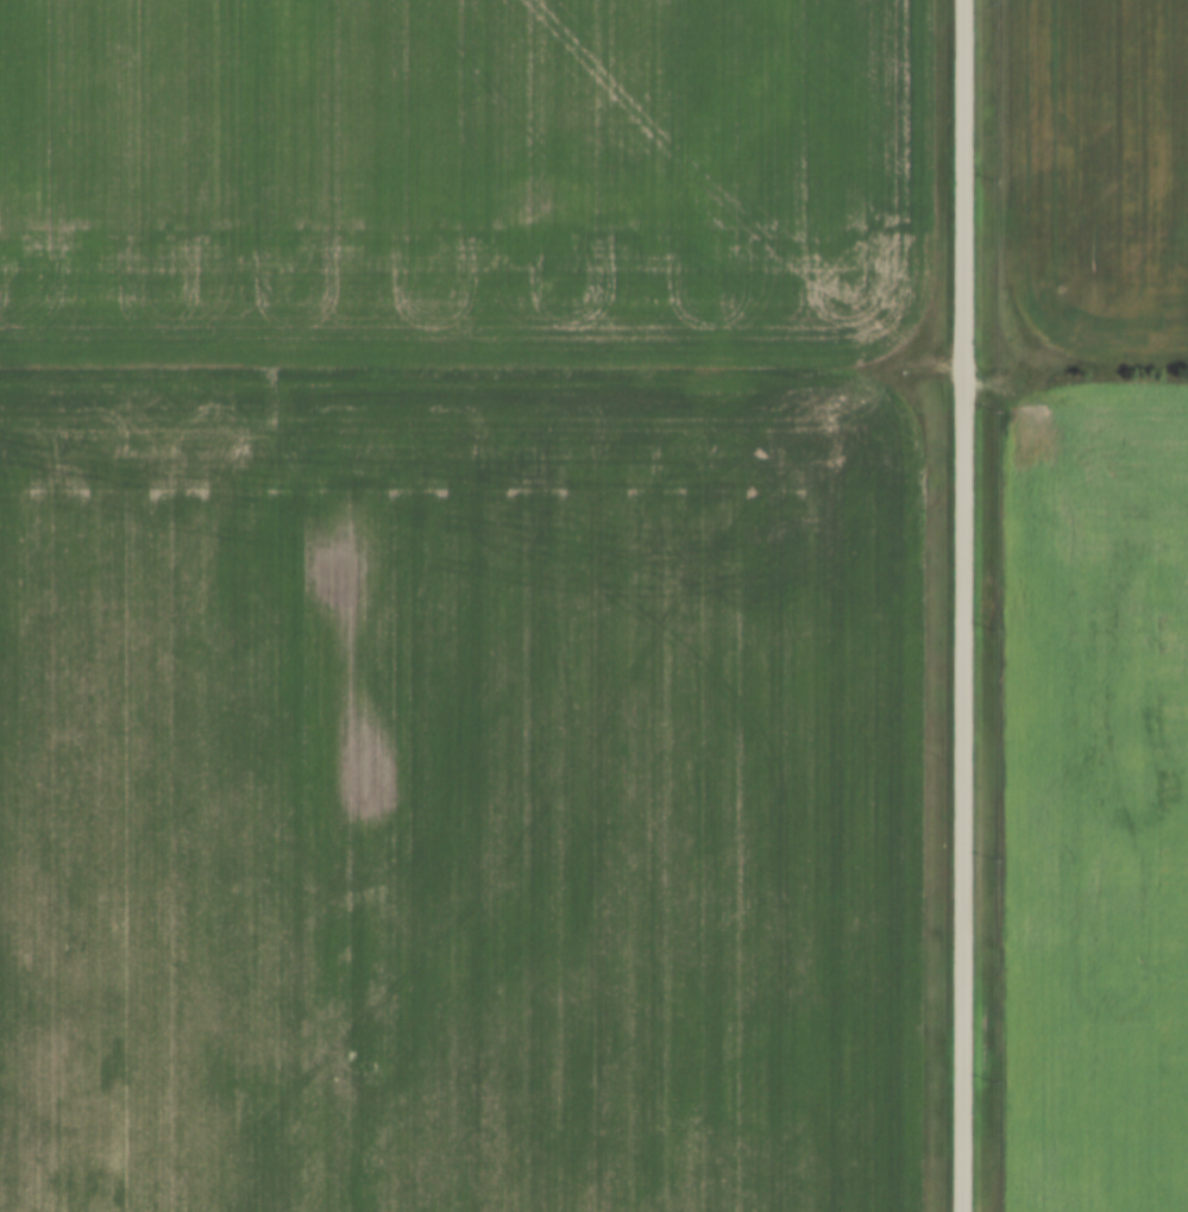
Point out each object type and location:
road: (962, 605)

